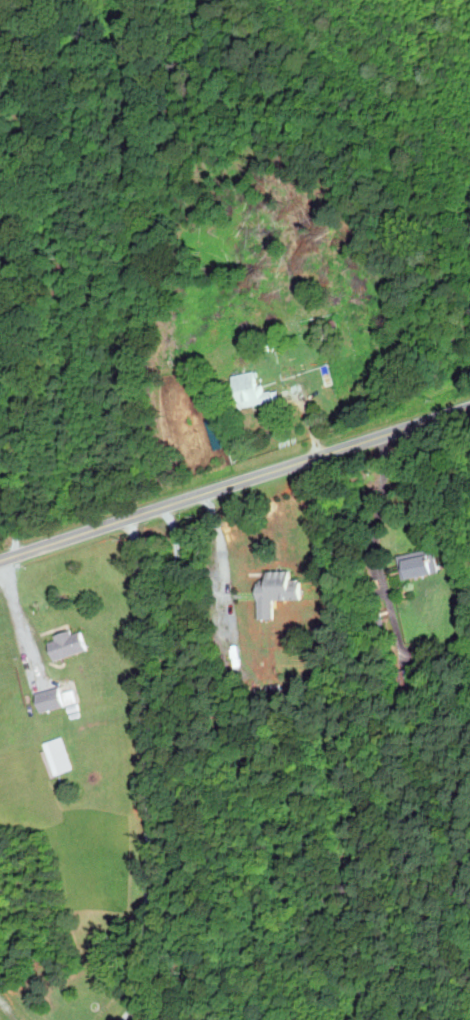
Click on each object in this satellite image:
road: (18, 278)
building: (259, 389)
road: (235, 483)
road: (383, 500)
road: (218, 546)
building: (421, 567)
building: (282, 591)
road: (21, 613)
building: (72, 644)
building: (57, 751)
road: (191, 761)
road: (139, 769)
road: (2, 1016)

